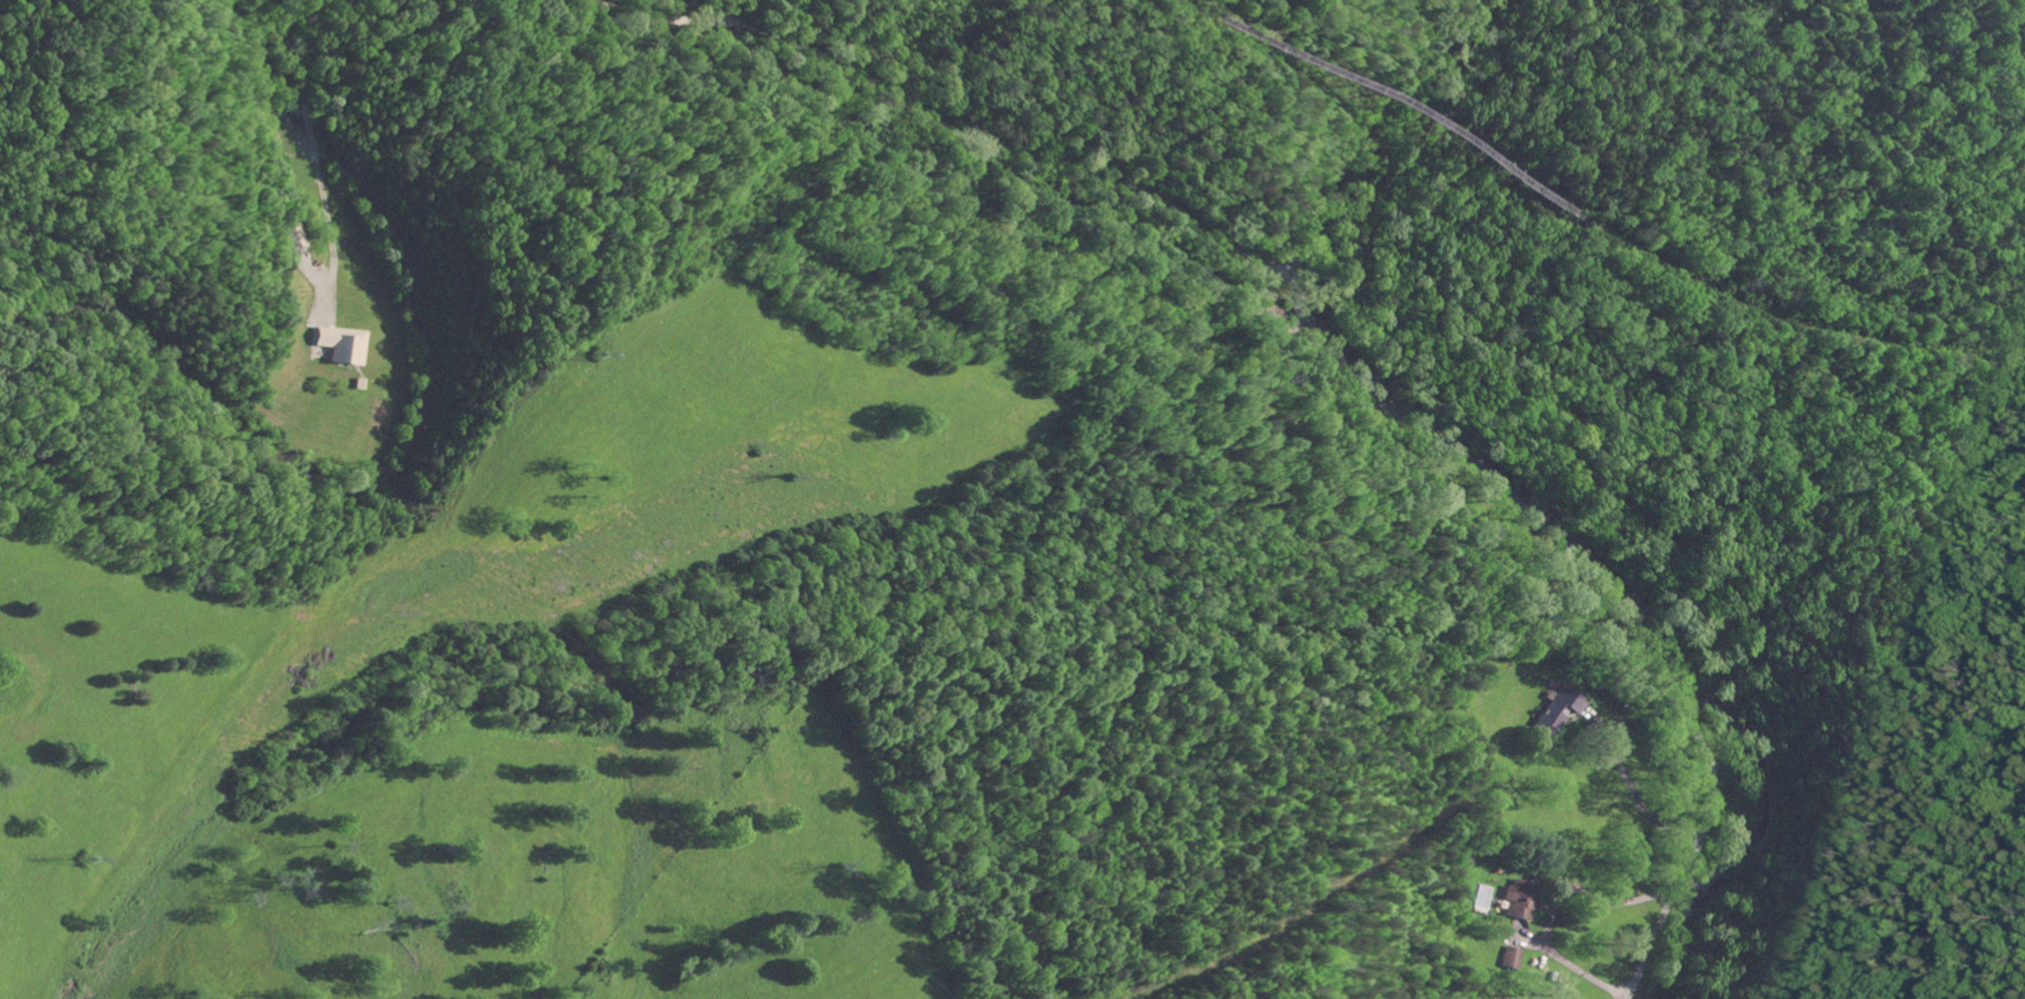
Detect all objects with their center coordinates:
railway: (1393, 111)
building: (337, 344)
road: (1440, 512)
building: (1565, 699)
road: (1552, 907)

